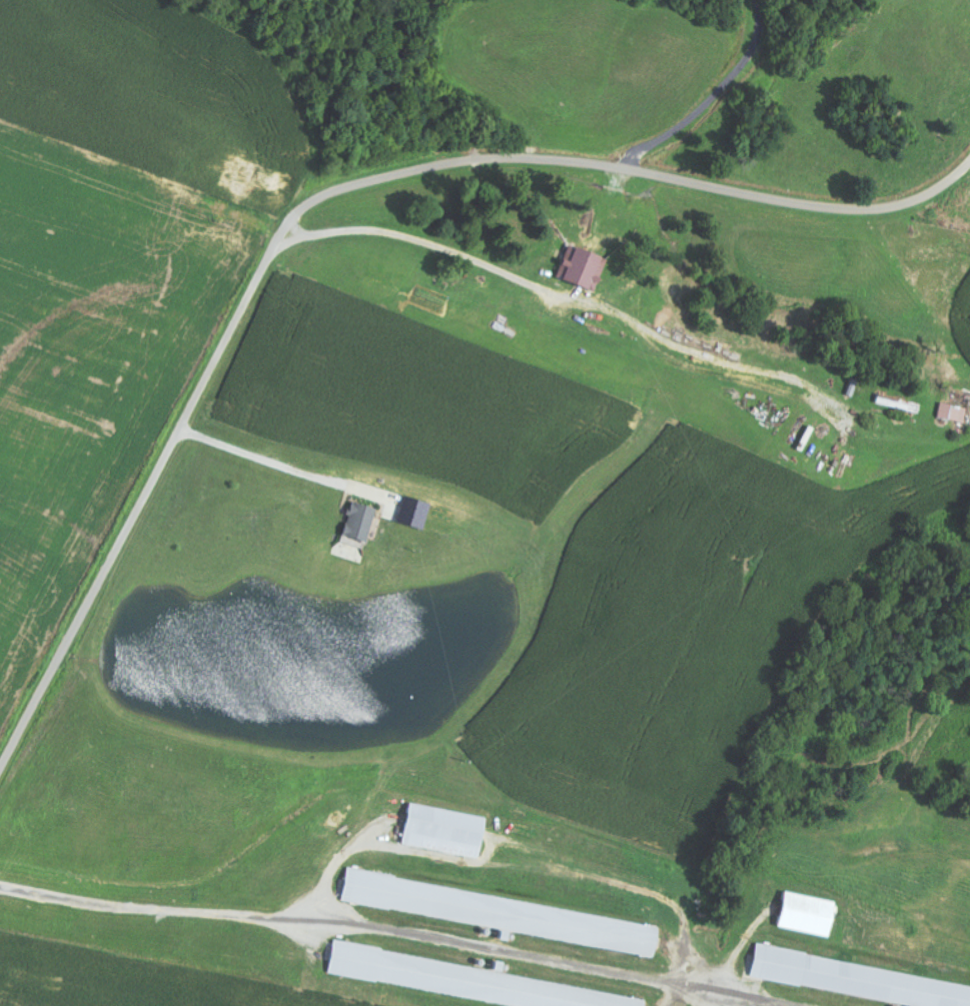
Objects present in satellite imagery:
road: (326, 197)
building: (584, 269)
building: (953, 413)
building: (416, 513)
building: (361, 522)
building: (446, 831)
building: (502, 914)
building: (808, 915)
building: (858, 981)
building: (470, 982)

